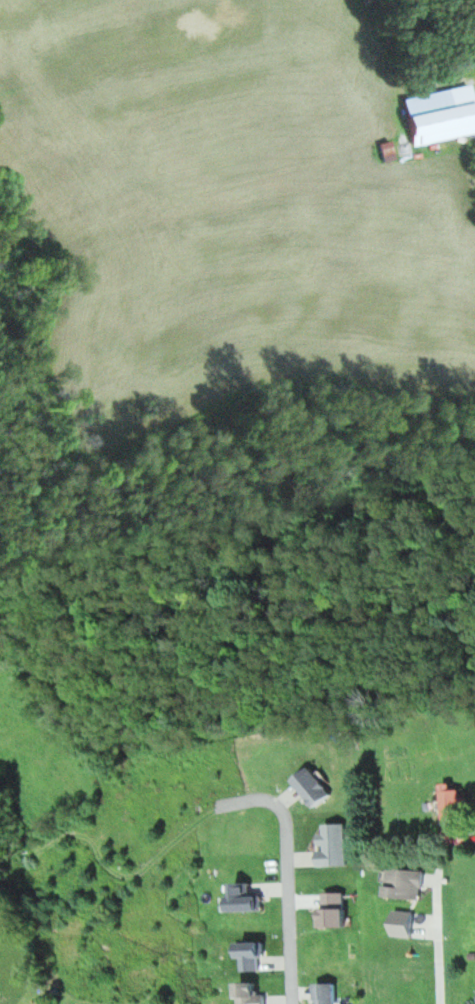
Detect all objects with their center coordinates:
building: (441, 114)
building: (311, 787)
building: (453, 816)
building: (402, 884)
building: (324, 992)
building: (249, 993)

